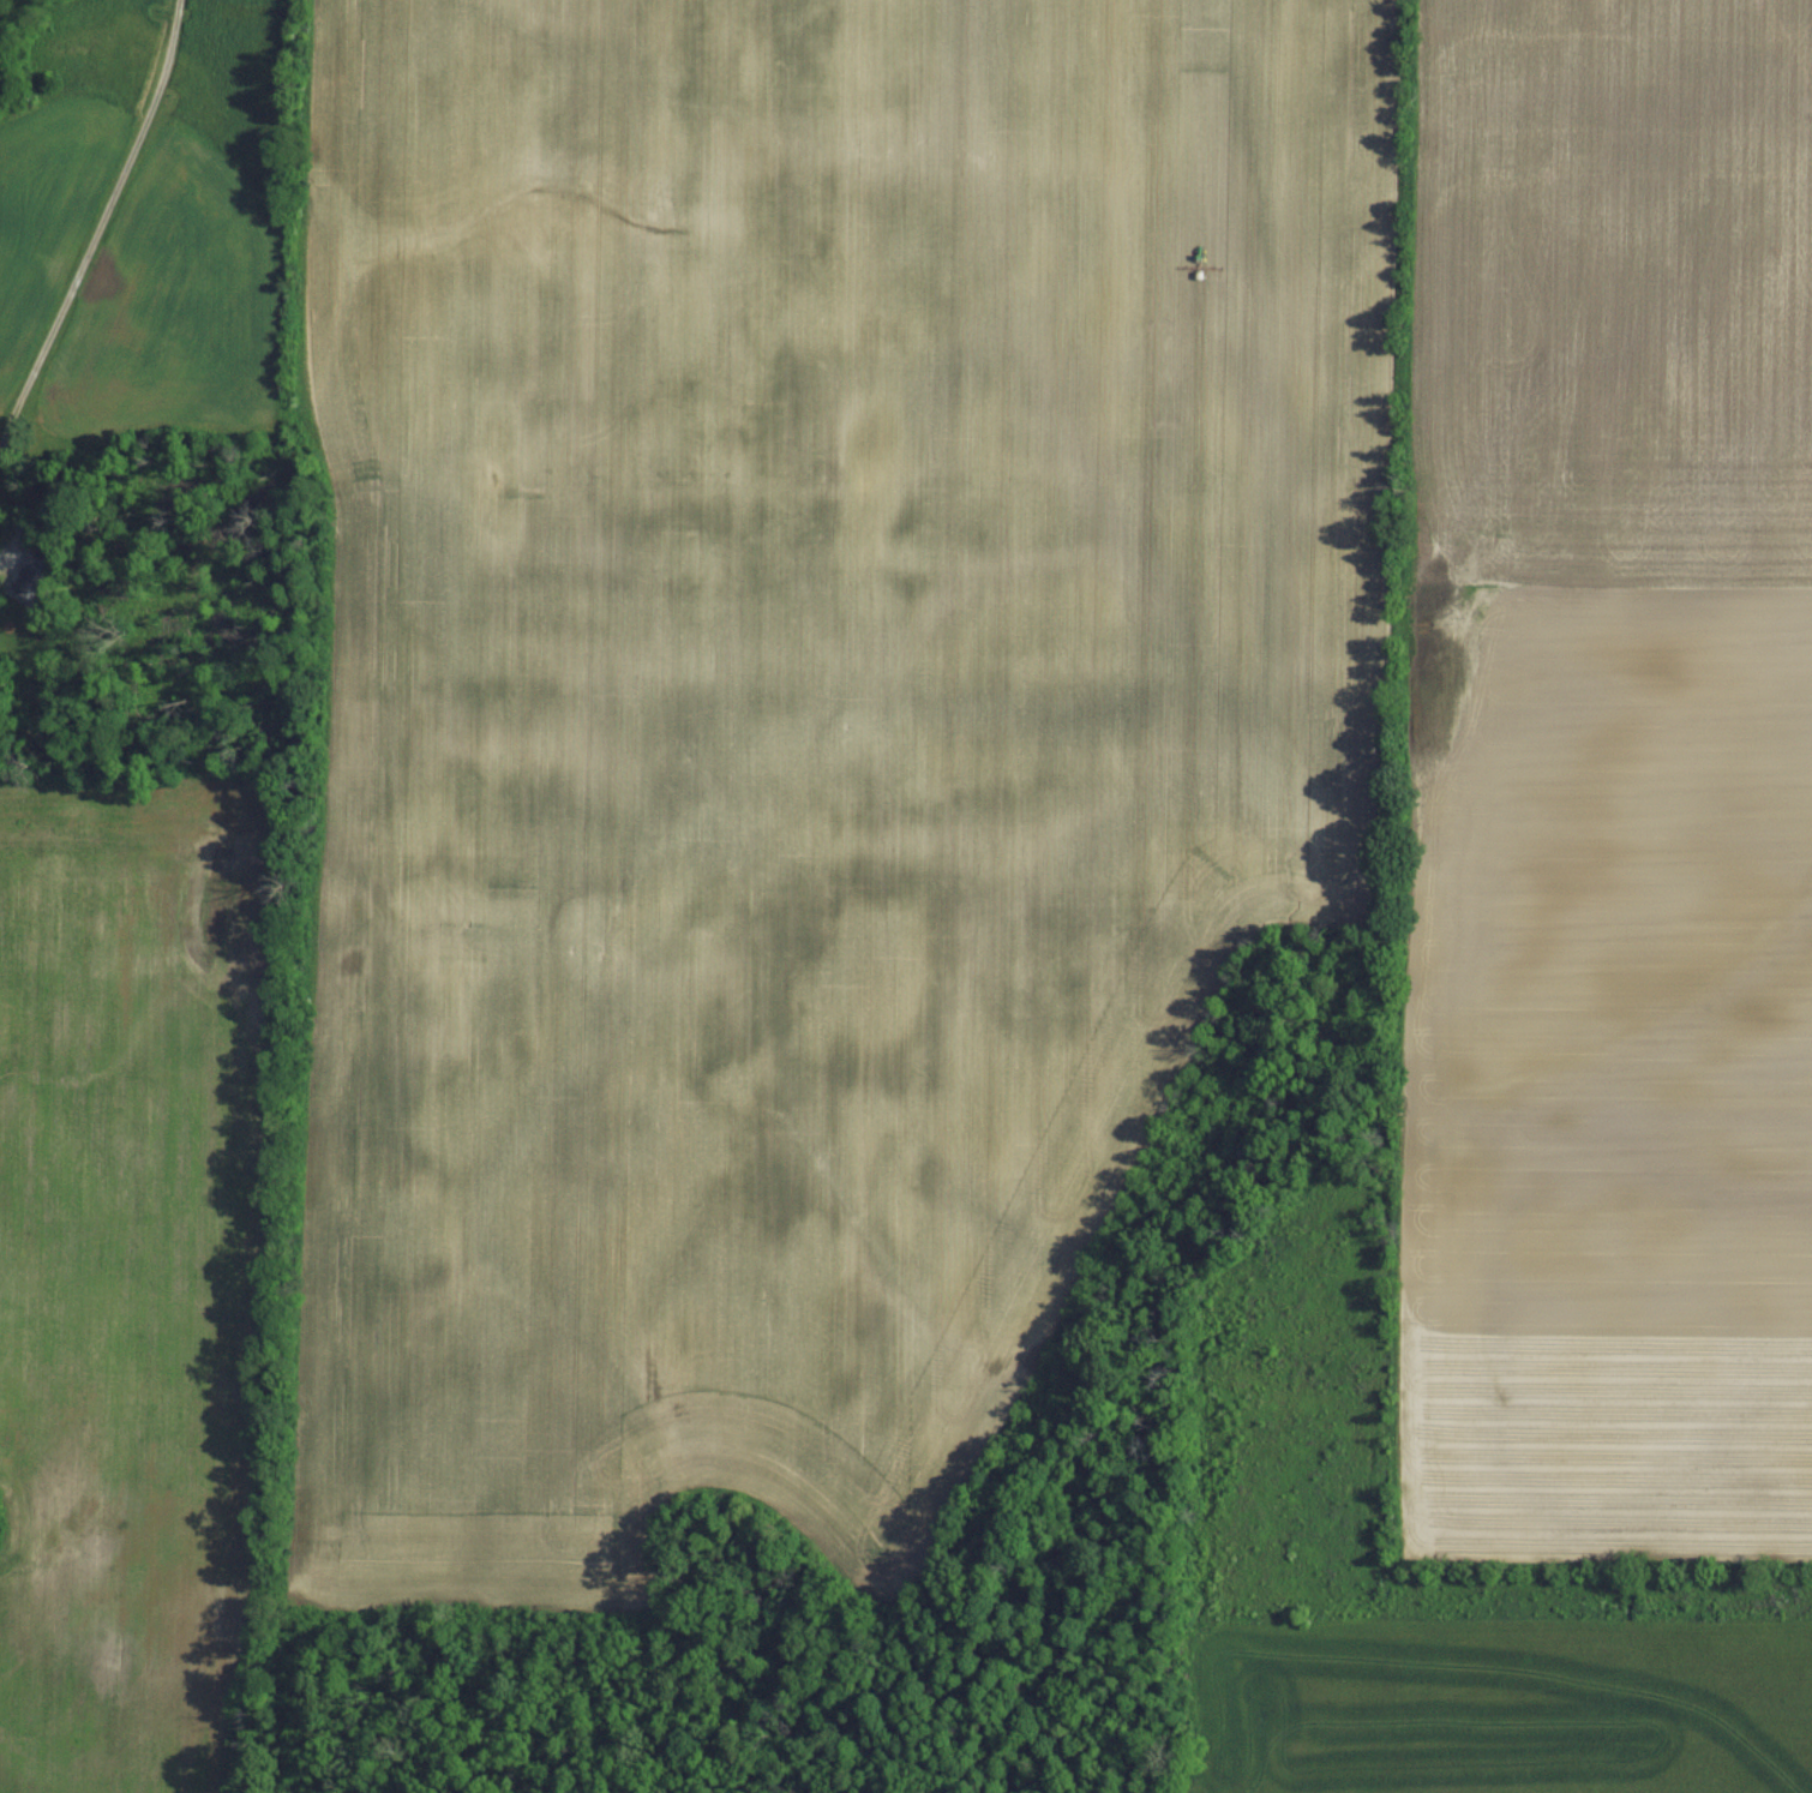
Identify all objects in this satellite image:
road: (96, 222)
road: (12, 503)
building: (35, 576)

